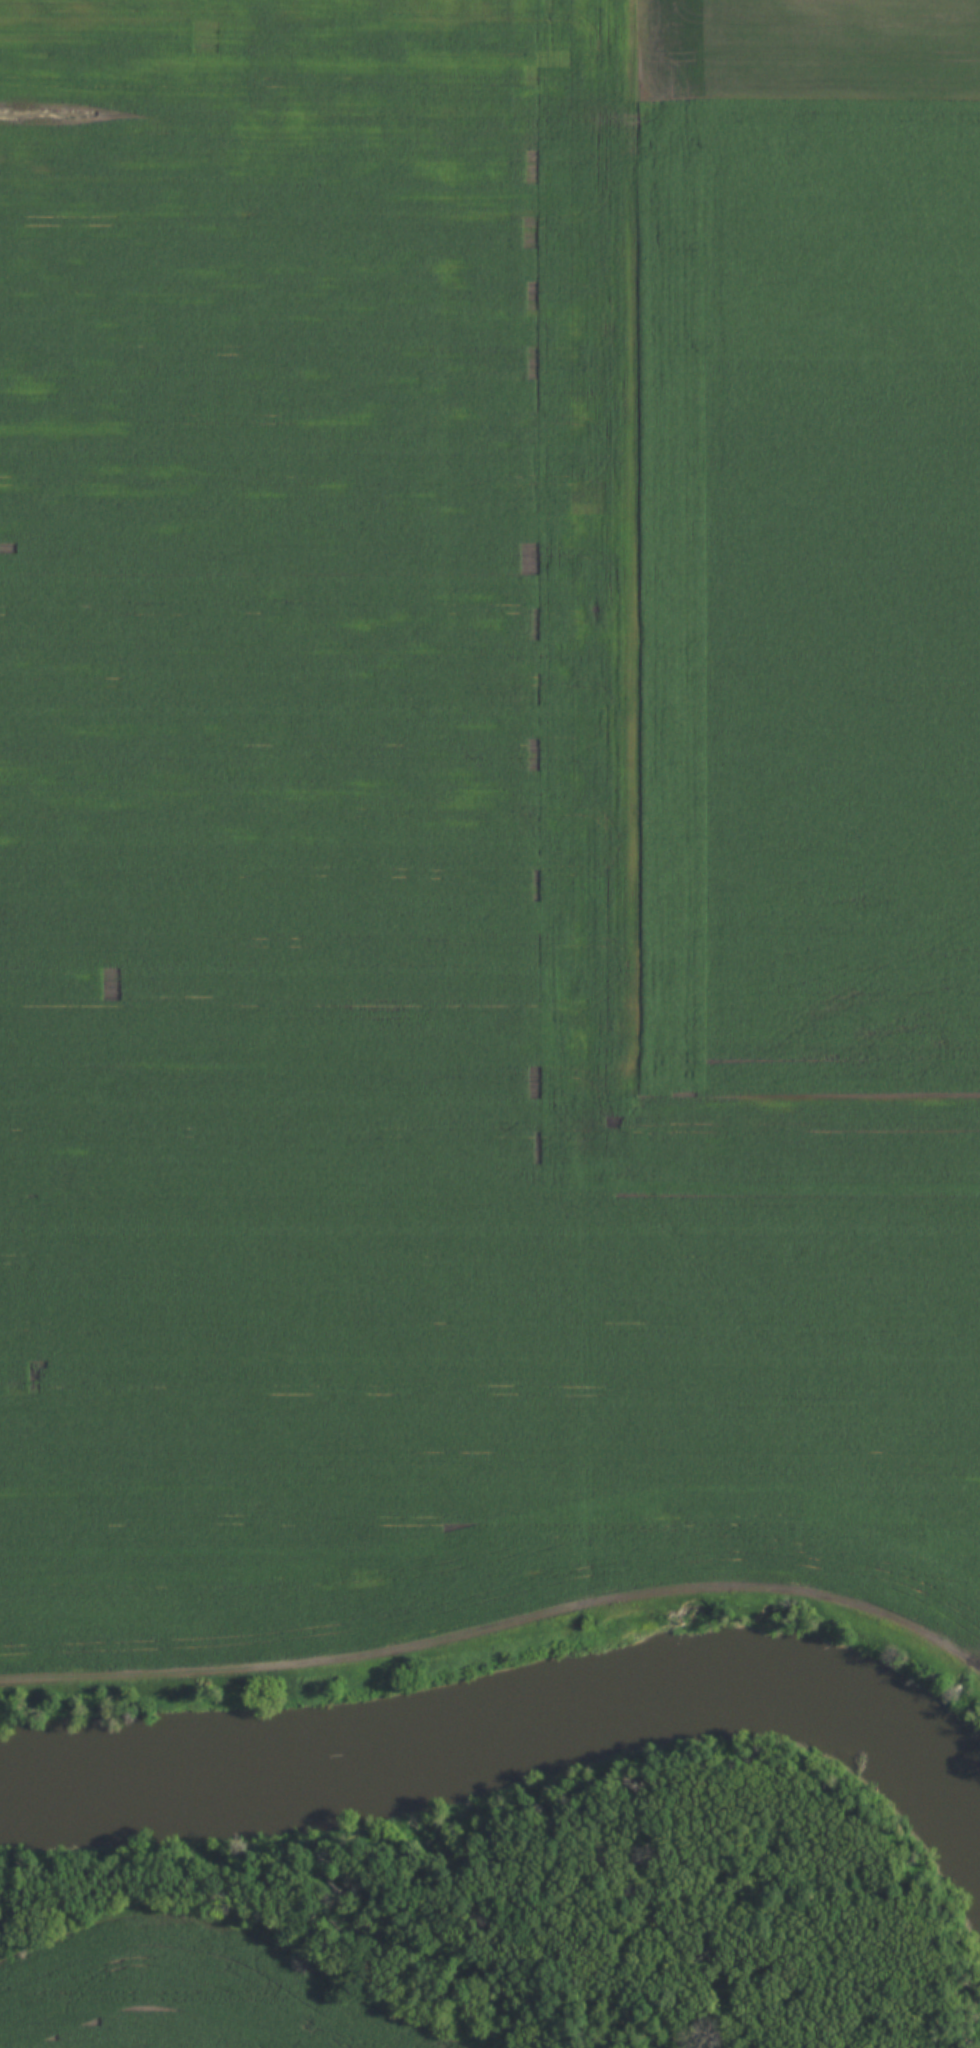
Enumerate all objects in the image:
river: (517, 1723)

